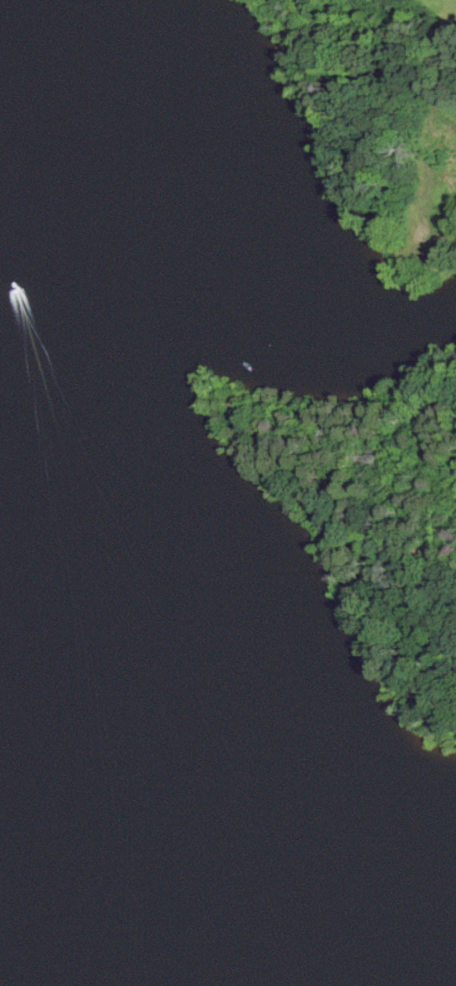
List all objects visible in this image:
park: (373, 497)

